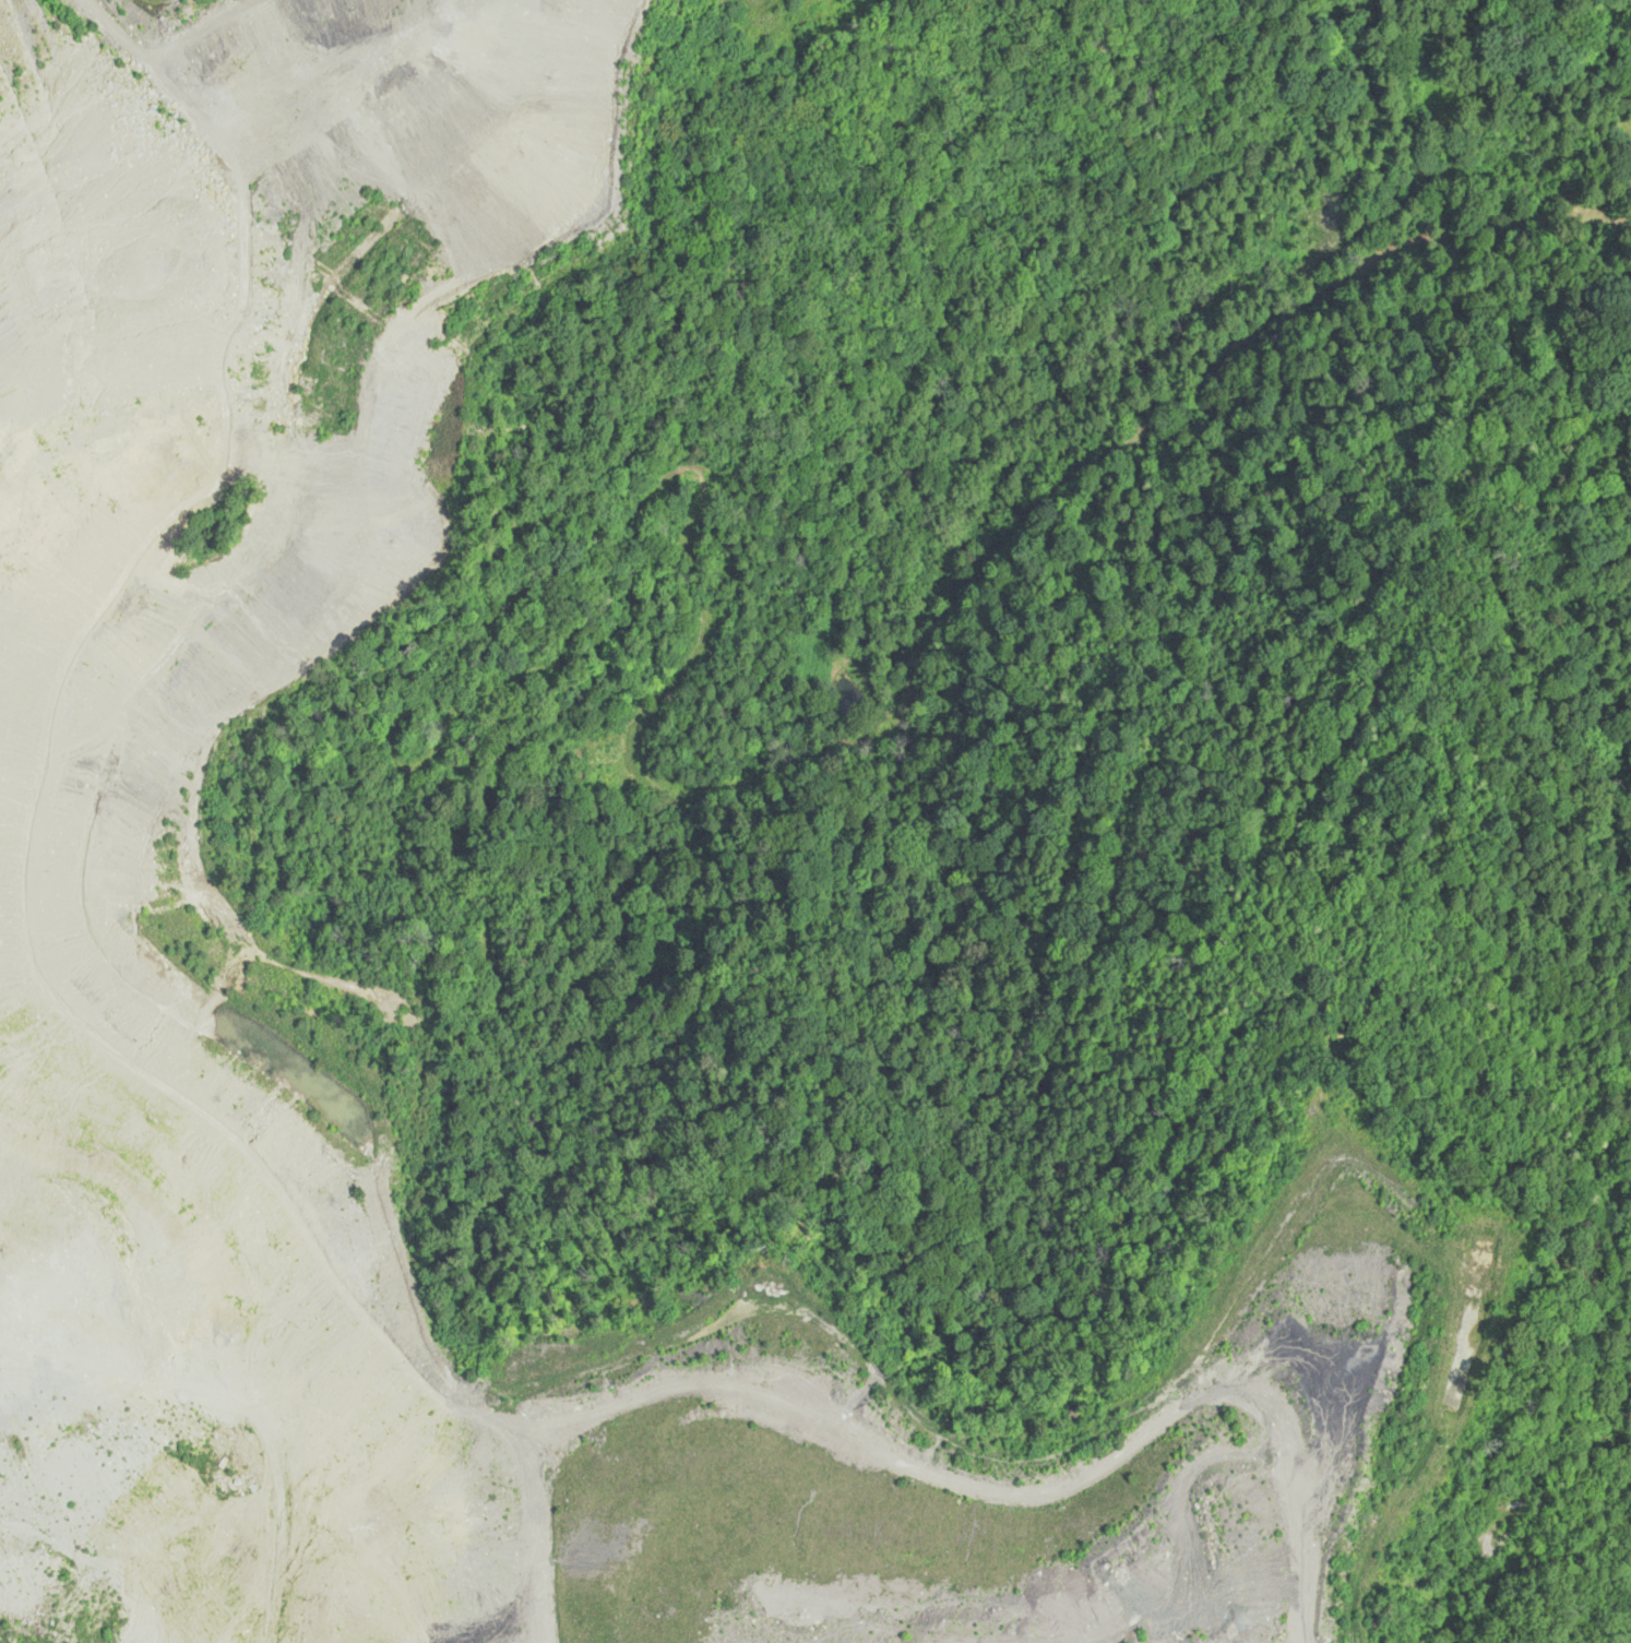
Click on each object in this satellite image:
road: (815, 1033)

